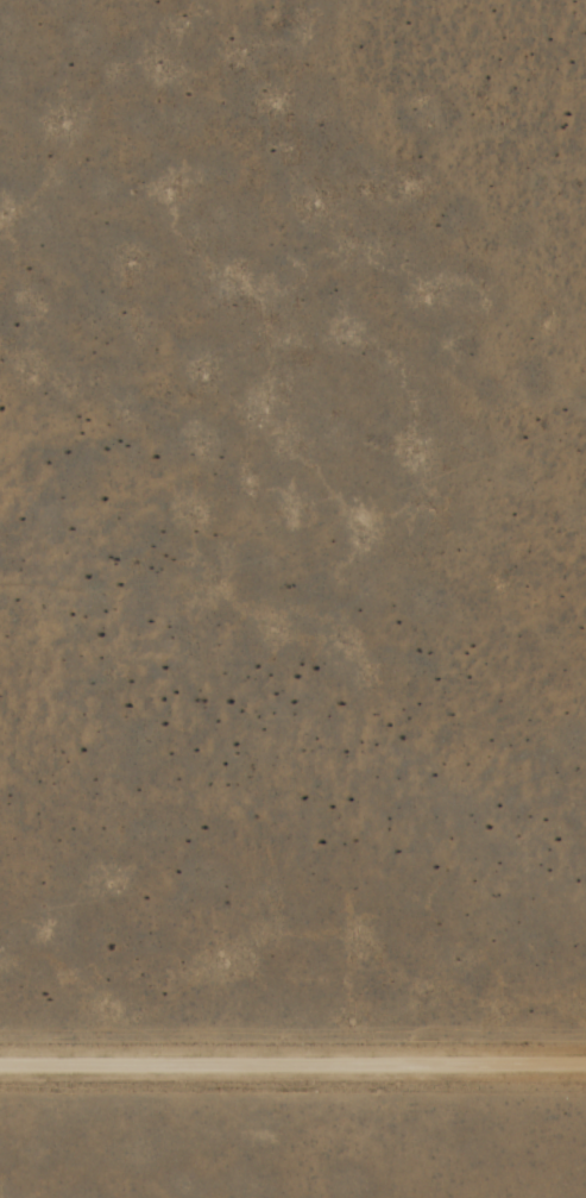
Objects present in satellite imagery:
road: (292, 1075)

